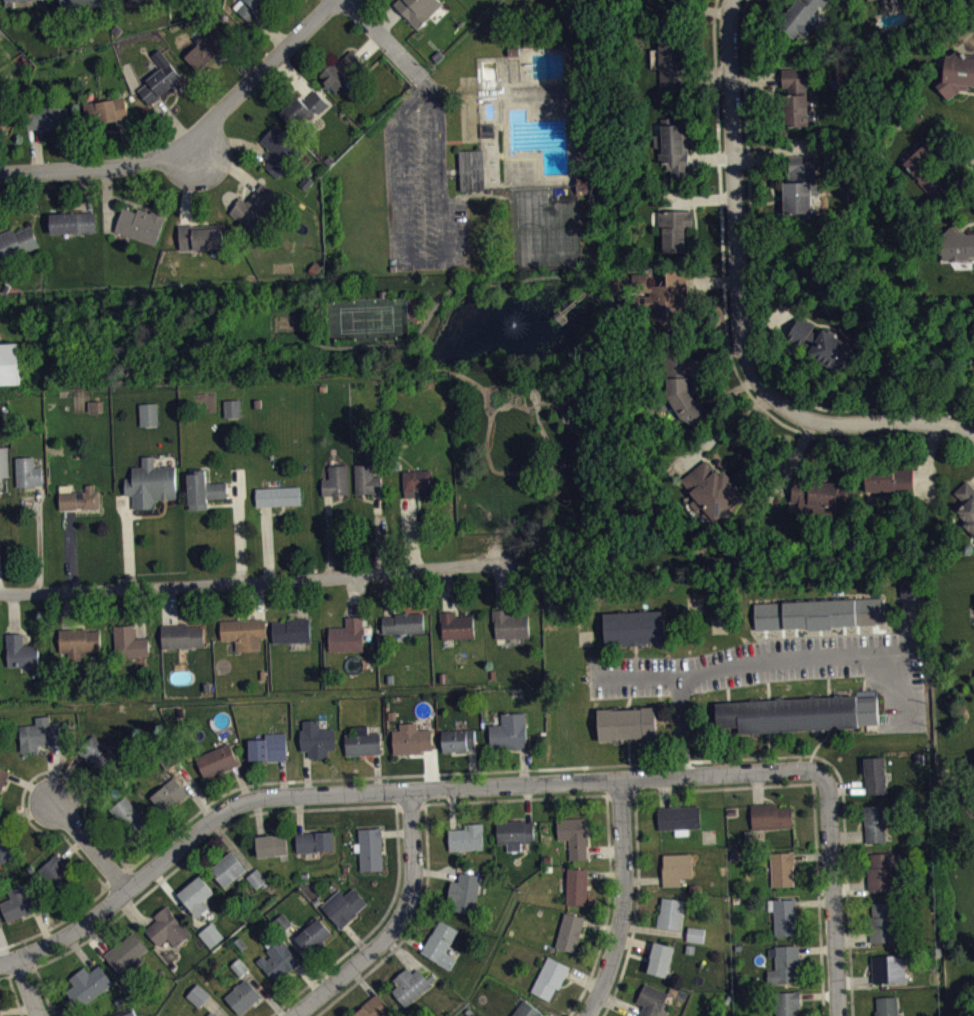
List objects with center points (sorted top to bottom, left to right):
building: (137, 0)
building: (874, 0)
building: (662, 1)
building: (27, 3)
building: (80, 3)
building: (250, 7)
building: (417, 9)
building: (800, 16)
road: (386, 18)
road: (384, 38)
road: (743, 38)
building: (207, 48)
building: (672, 65)
building: (342, 71)
building: (957, 73)
road: (257, 74)
building: (160, 78)
building: (795, 95)
building: (304, 109)
building: (105, 110)
building: (3, 115)
building: (47, 117)
building: (673, 146)
building: (279, 149)
building: (928, 164)
road: (97, 167)
building: (471, 168)
building: (800, 184)
parking lot: (421, 190)
building: (259, 206)
building: (72, 221)
building: (141, 224)
building: (674, 229)
building: (201, 238)
building: (16, 243)
building: (956, 246)
road: (422, 262)
building: (656, 295)
road: (739, 309)
park: (368, 319)
road: (724, 320)
building: (822, 344)
building: (10, 365)
building: (973, 366)
building: (973, 376)
building: (0, 389)
building: (683, 391)
building: (232, 407)
building: (234, 415)
building: (151, 421)
building: (3, 462)
building: (27, 472)
building: (366, 478)
building: (416, 479)
building: (335, 480)
building: (892, 480)
building: (151, 483)
building: (203, 488)
building: (711, 490)
building: (817, 494)
building: (278, 495)
building: (78, 497)
building: (967, 504)
road: (41, 544)
road: (250, 579)
building: (909, 585)
building: (819, 613)
building: (402, 622)
building: (509, 624)
building: (456, 625)
building: (634, 628)
building: (291, 630)
building: (244, 632)
building: (182, 635)
building: (347, 635)
building: (78, 641)
building: (129, 641)
building: (20, 651)
road: (767, 659)
parking lot: (781, 669)
building: (796, 713)
building: (626, 723)
building: (509, 730)
building: (39, 733)
building: (316, 739)
building: (411, 739)
building: (457, 739)
building: (363, 742)
building: (268, 746)
building: (99, 757)
building: (217, 760)
building: (875, 775)
building: (3, 776)
road: (380, 776)
road: (384, 792)
road: (619, 793)
building: (169, 794)
road: (409, 804)
road: (291, 809)
road: (814, 809)
building: (771, 816)
building: (131, 817)
building: (678, 818)
building: (874, 823)
building: (514, 833)
building: (573, 835)
building: (466, 836)
building: (314, 841)
road: (425, 841)
building: (6, 843)
building: (271, 845)
road: (91, 848)
building: (370, 848)
building: (227, 868)
building: (676, 868)
building: (782, 868)
building: (56, 871)
building: (883, 871)
road: (113, 875)
building: (256, 877)
building: (258, 885)
building: (577, 885)
building: (464, 891)
road: (831, 894)
building: (196, 895)
building: (22, 901)
road: (621, 901)
building: (343, 905)
road: (634, 907)
road: (606, 909)
building: (670, 913)
building: (783, 916)
building: (282, 922)
building: (884, 922)
road: (396, 924)
building: (167, 927)
building: (569, 931)
building: (313, 933)
building: (211, 934)
building: (695, 934)
building: (213, 941)
building: (697, 941)
building: (441, 943)
building: (126, 952)
building: (278, 959)
building: (660, 959)
building: (783, 963)
building: (239, 966)
building: (888, 968)
road: (20, 971)
building: (241, 974)
building: (549, 977)
building: (88, 983)
building: (411, 984)
road: (27, 988)
road: (12, 993)
building: (243, 995)
building: (652, 1001)
building: (200, 1002)
building: (787, 1003)
building: (886, 1006)
building: (374, 1007)
building: (526, 1009)
building: (126, 1012)
building: (211, 1014)

